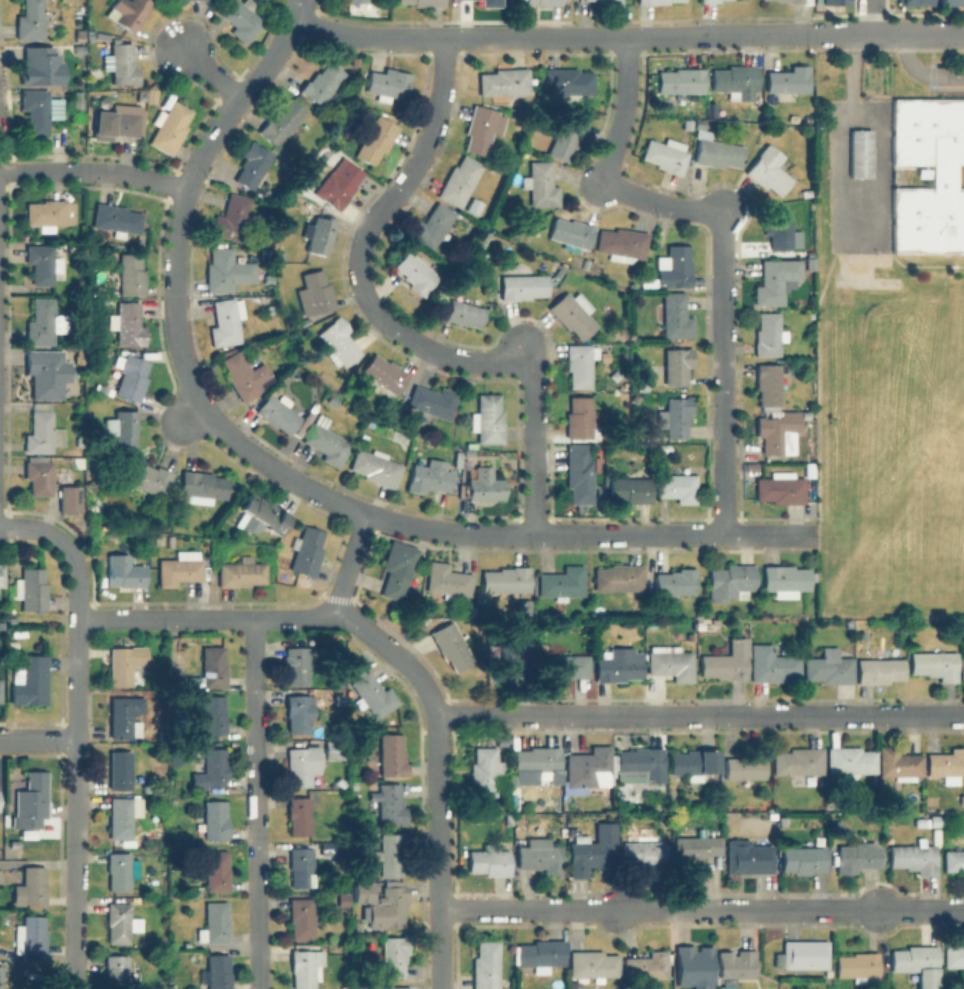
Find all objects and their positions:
building: (356, 0)
building: (598, 0)
building: (776, 0)
building: (655, 1)
building: (709, 1)
building: (793, 1)
building: (424, 2)
building: (543, 2)
building: (609, 2)
building: (832, 2)
building: (909, 2)
building: (949, 2)
building: (494, 3)
building: (128, 12)
road: (867, 17)
building: (241, 19)
building: (30, 20)
road: (627, 36)
building: (123, 62)
building: (40, 66)
road: (211, 71)
building: (680, 80)
building: (567, 81)
building: (735, 81)
building: (322, 82)
building: (788, 82)
building: (505, 83)
building: (387, 84)
building: (78, 101)
building: (39, 110)
building: (281, 122)
building: (114, 123)
building: (687, 123)
building: (698, 123)
building: (169, 126)
building: (482, 127)
building: (567, 136)
building: (374, 138)
building: (717, 151)
building: (666, 154)
building: (862, 154)
building: (252, 164)
building: (769, 169)
road: (93, 171)
building: (943, 176)
building: (459, 180)
building: (338, 183)
building: (541, 184)
building: (472, 205)
building: (46, 214)
building: (232, 216)
building: (115, 217)
building: (430, 226)
building: (779, 229)
building: (572, 233)
building: (319, 234)
road: (721, 234)
building: (505, 243)
building: (623, 243)
building: (41, 263)
building: (676, 268)
building: (226, 270)
building: (414, 271)
building: (131, 273)
building: (775, 279)
building: (523, 286)
road: (174, 287)
building: (317, 291)
building: (489, 305)
building: (464, 313)
building: (573, 313)
building: (675, 315)
building: (226, 321)
building: (43, 322)
building: (127, 323)
road: (386, 323)
building: (768, 334)
building: (338, 342)
building: (580, 363)
building: (674, 367)
building: (44, 371)
building: (385, 374)
building: (246, 376)
building: (132, 377)
building: (769, 382)
building: (641, 385)
building: (348, 392)
building: (284, 398)
building: (433, 400)
building: (333, 402)
building: (278, 413)
road: (188, 415)
building: (676, 416)
building: (488, 419)
building: (580, 419)
building: (125, 427)
building: (778, 432)
building: (42, 433)
building: (326, 441)
building: (664, 452)
building: (469, 453)
building: (458, 461)
building: (376, 467)
building: (579, 472)
building: (147, 476)
building: (430, 476)
building: (38, 477)
building: (203, 483)
building: (485, 485)
building: (677, 485)
building: (780, 488)
building: (631, 489)
building: (600, 496)
building: (70, 500)
building: (258, 512)
road: (34, 528)
road: (586, 533)
building: (306, 550)
road: (349, 560)
building: (179, 568)
building: (396, 568)
building: (124, 571)
building: (241, 571)
building: (2, 574)
building: (619, 577)
road: (79, 579)
building: (506, 579)
building: (785, 579)
building: (447, 580)
building: (562, 581)
building: (730, 581)
building: (675, 582)
building: (31, 589)
building: (525, 608)
building: (699, 611)
road: (207, 617)
building: (714, 620)
building: (647, 623)
building: (699, 624)
building: (690, 635)
building: (451, 645)
building: (512, 657)
building: (125, 662)
building: (727, 662)
building: (672, 663)
building: (934, 663)
building: (617, 664)
building: (772, 664)
building: (297, 665)
building: (566, 665)
building: (213, 666)
building: (878, 668)
building: (962, 668)
building: (829, 669)
building: (30, 680)
building: (0, 690)
building: (373, 693)
building: (341, 699)
building: (298, 711)
building: (214, 714)
road: (700, 714)
building: (123, 717)
road: (39, 740)
building: (392, 755)
road: (78, 757)
building: (537, 760)
building: (798, 760)
building: (850, 762)
building: (641, 763)
building: (694, 763)
building: (899, 763)
building: (302, 764)
building: (947, 765)
building: (746, 766)
building: (213, 768)
building: (588, 768)
building: (120, 769)
building: (485, 772)
road: (438, 774)
building: (30, 801)
building: (932, 801)
road: (257, 803)
building: (388, 803)
building: (122, 815)
building: (299, 815)
building: (214, 818)
building: (933, 822)
building: (919, 823)
building: (838, 828)
building: (29, 835)
building: (14, 843)
building: (696, 847)
building: (592, 849)
building: (391, 852)
building: (643, 852)
building: (540, 855)
building: (749, 856)
building: (857, 856)
building: (803, 858)
building: (914, 858)
building: (490, 860)
building: (954, 860)
building: (301, 866)
building: (122, 869)
building: (216, 871)
building: (32, 885)
building: (345, 901)
building: (391, 905)
road: (702, 908)
building: (301, 917)
building: (121, 923)
building: (215, 923)
building: (31, 935)
road: (75, 942)
building: (541, 953)
building: (806, 954)
building: (954, 954)
building: (391, 956)
building: (693, 959)
building: (593, 963)
building: (736, 964)
building: (917, 964)
building: (486, 965)
building: (304, 966)
building: (858, 967)
building: (646, 968)
building: (117, 972)
building: (216, 972)
building: (394, 987)

